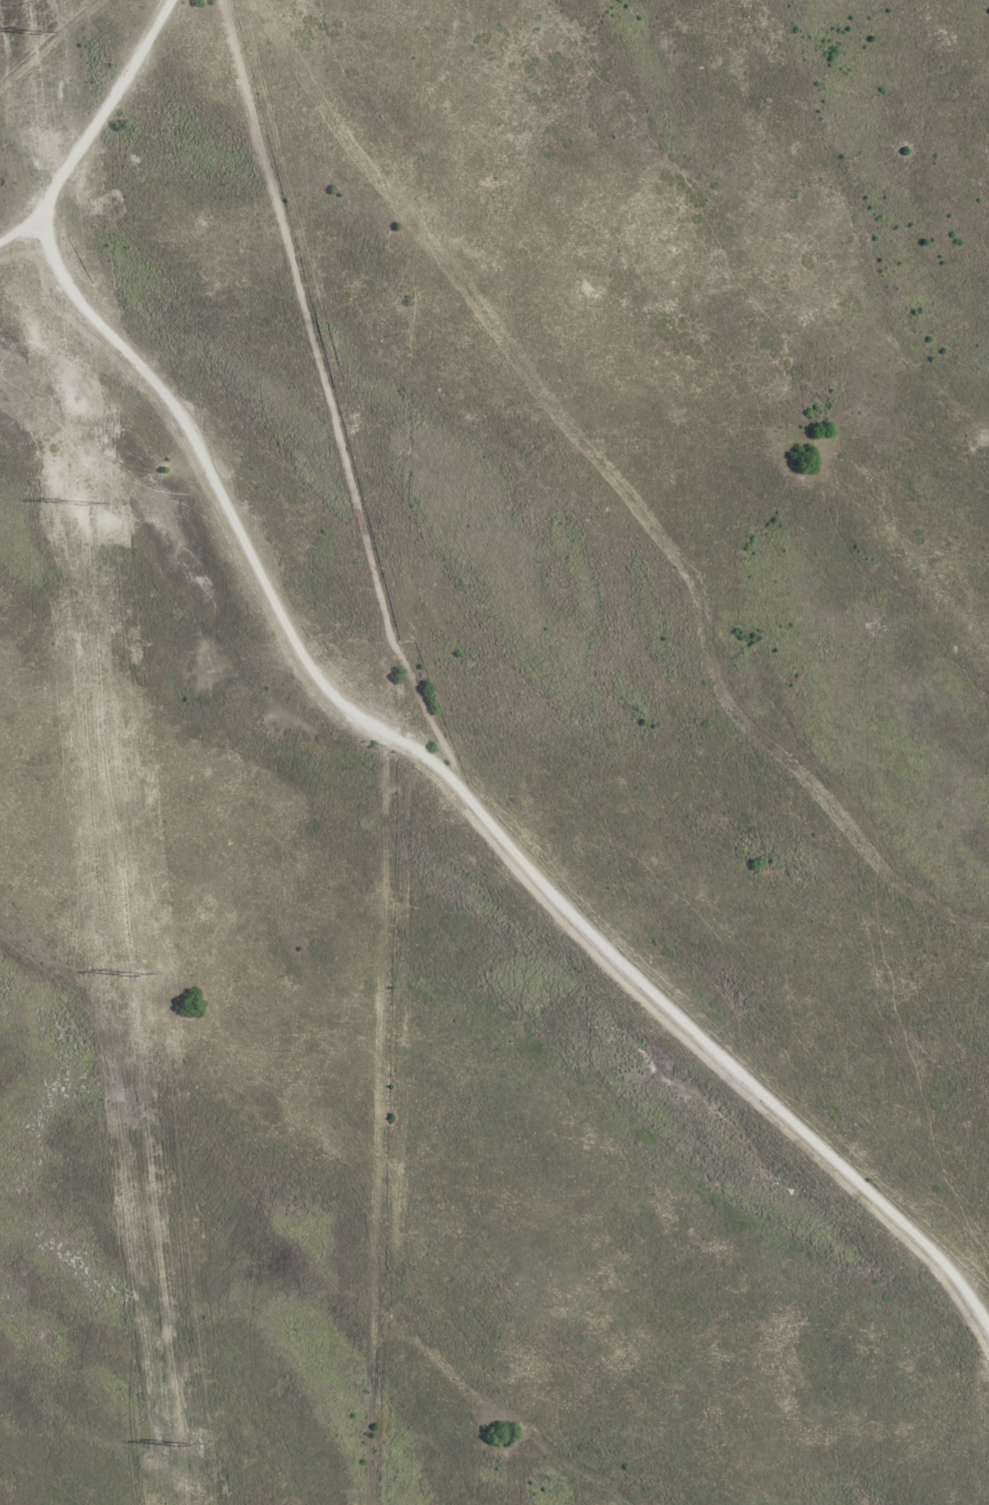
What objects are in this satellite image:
road: (92, 130)

